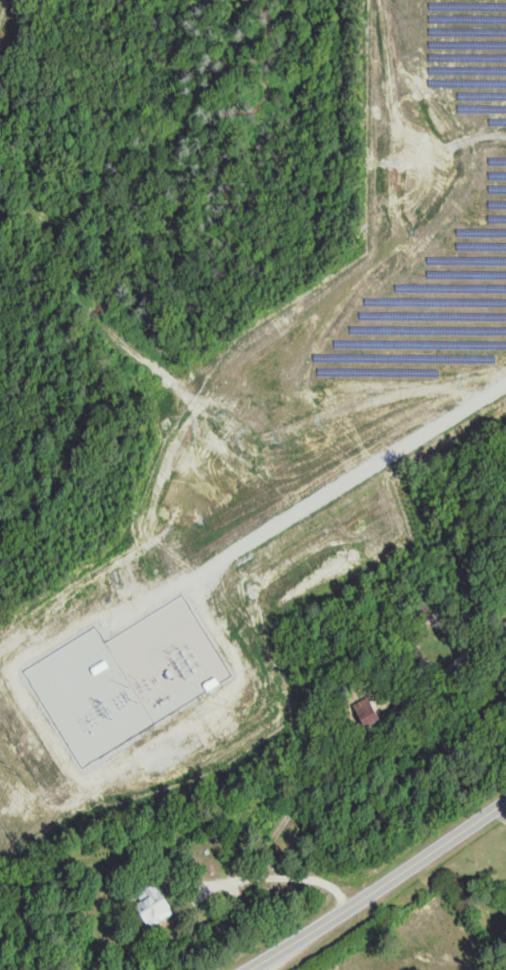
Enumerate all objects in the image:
road: (282, 878)
road: (377, 886)
building: (155, 903)

